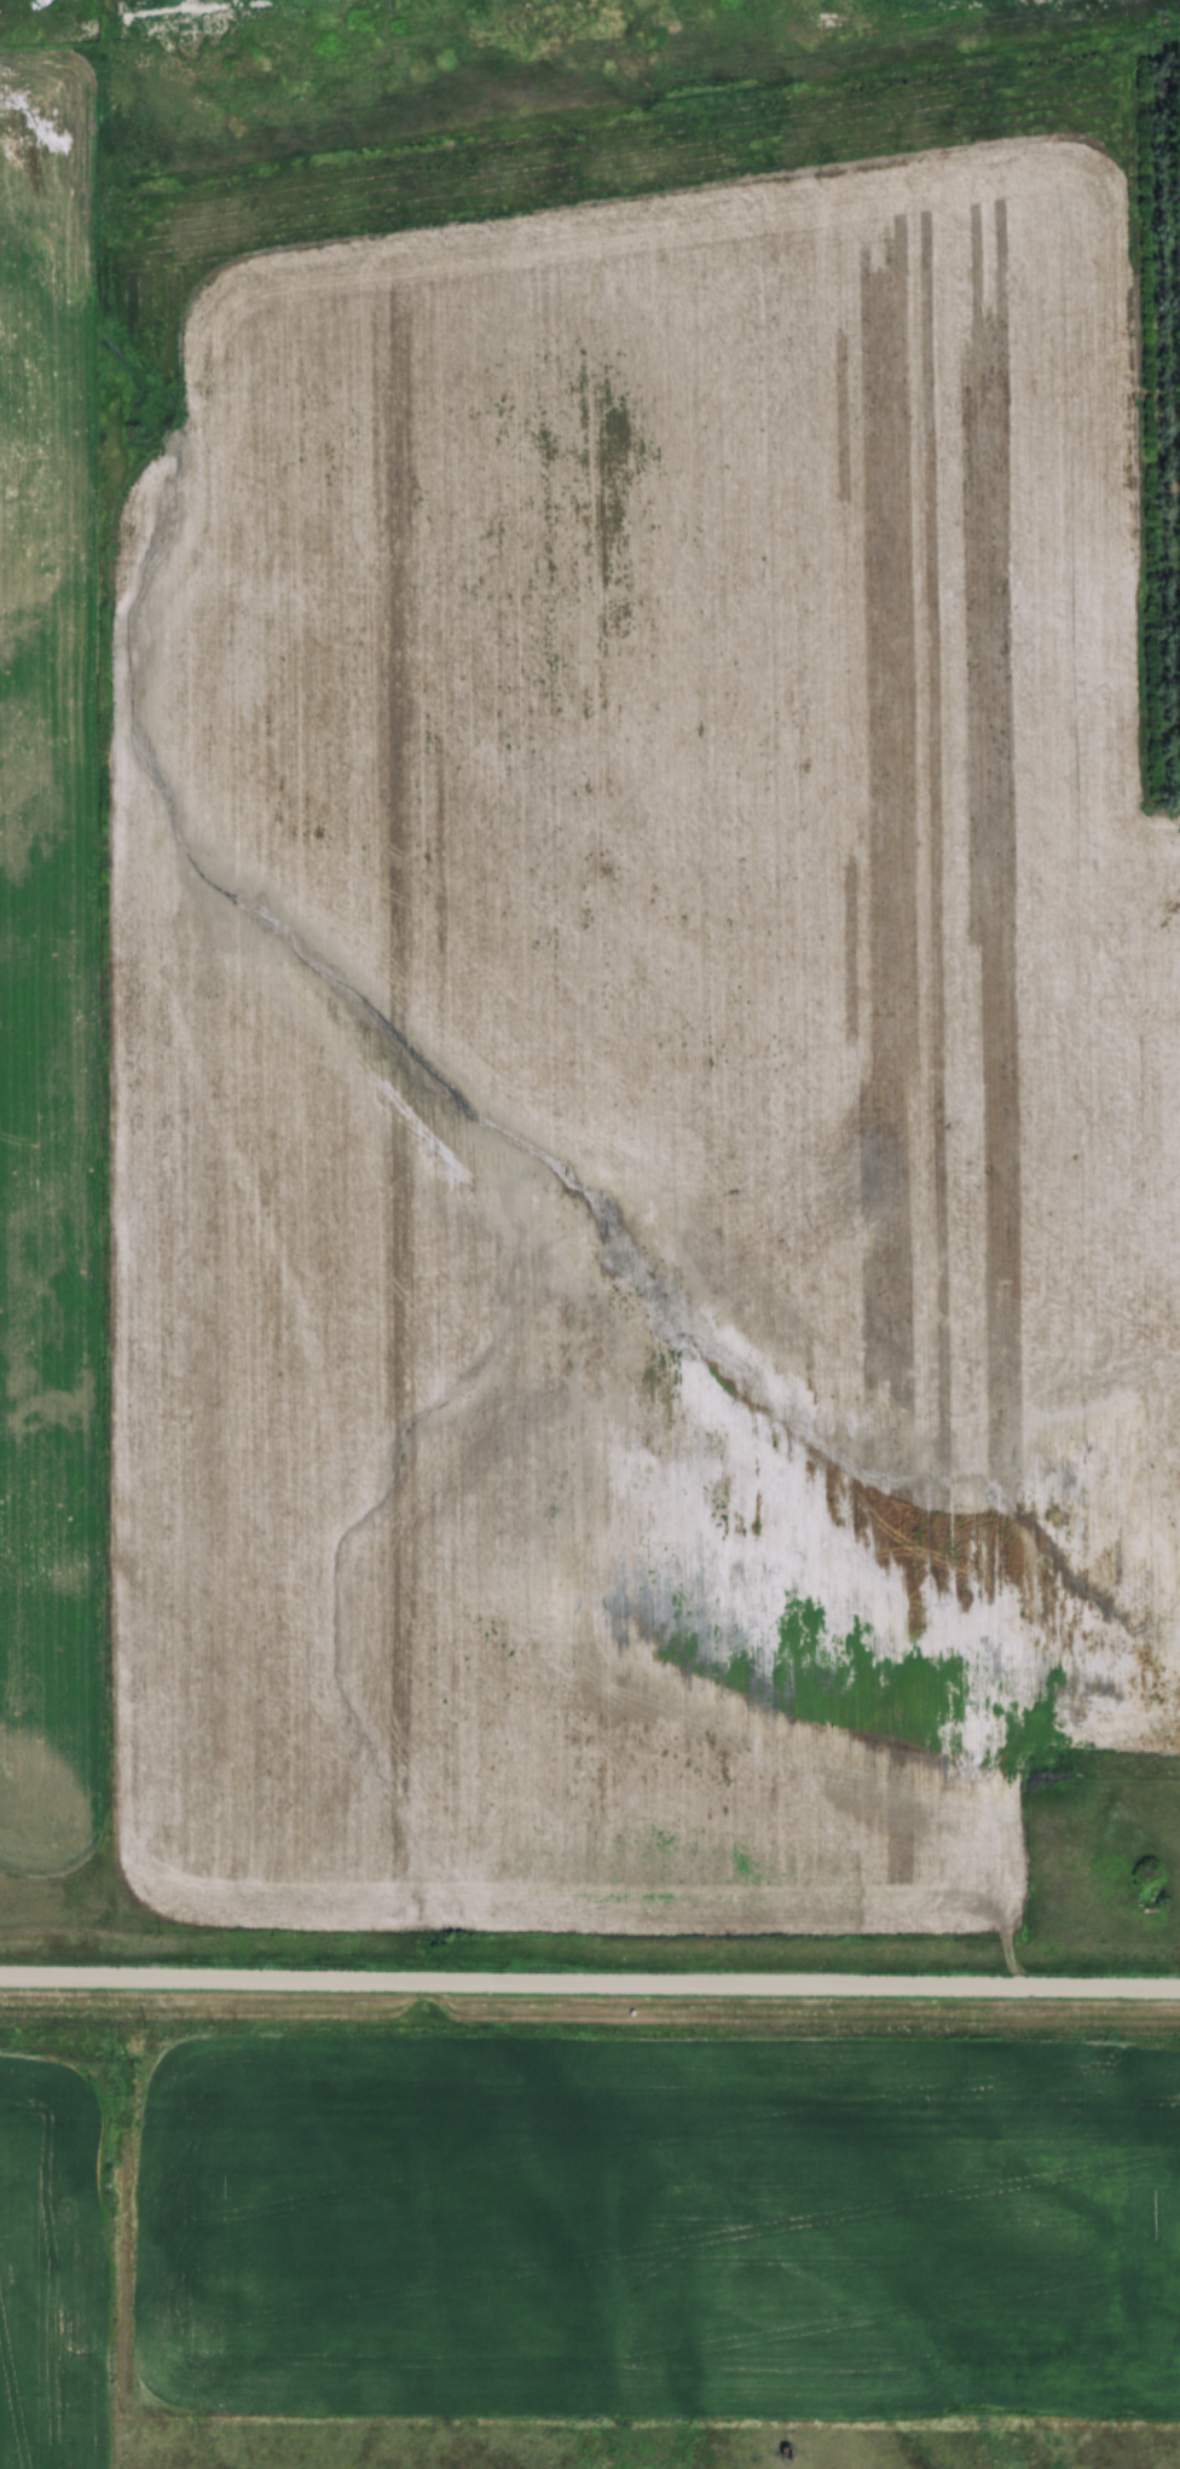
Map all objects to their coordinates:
crop: (643, 1071)
road: (590, 1983)

